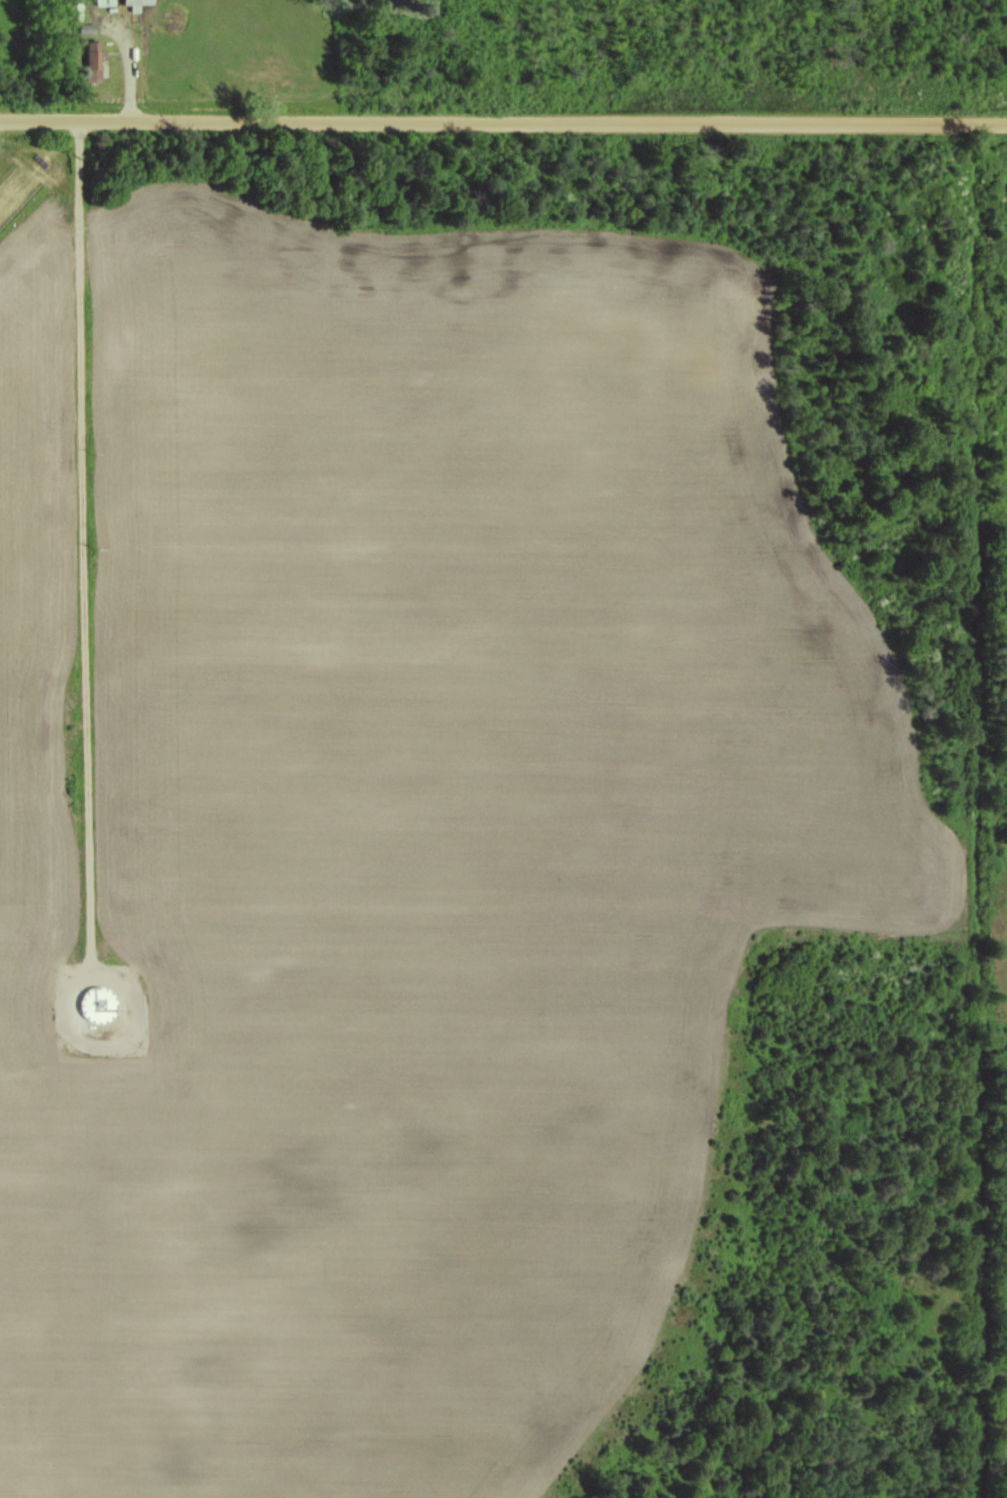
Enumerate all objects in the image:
building: (103, 2)
building: (135, 4)
building: (85, 28)
building: (93, 60)
road: (133, 69)
road: (503, 123)
road: (41, 573)
building: (98, 1004)

